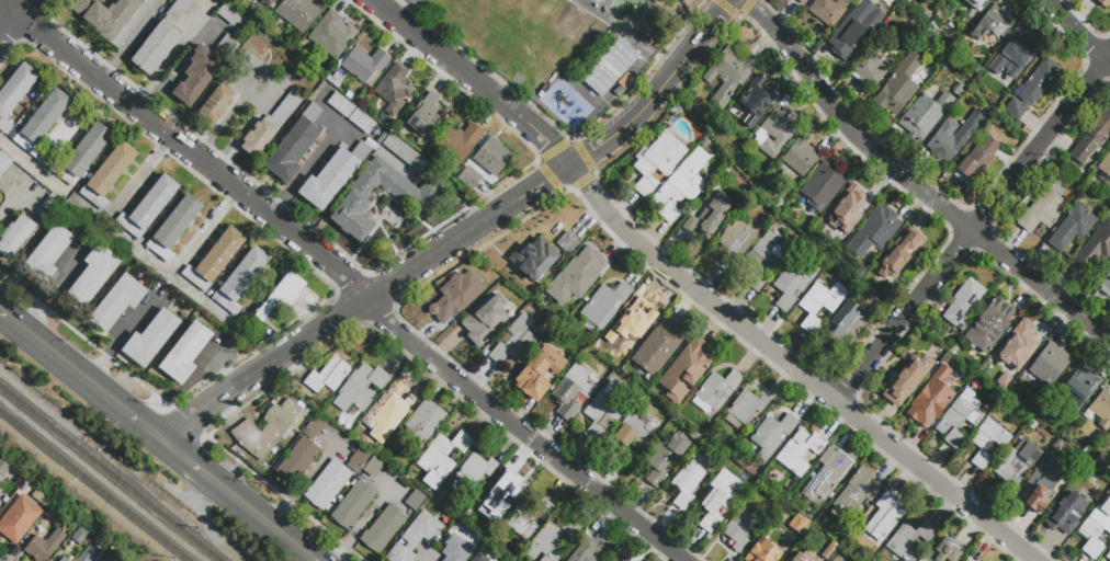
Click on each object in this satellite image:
building: (269, 2)
building: (804, 2)
building: (1106, 2)
park: (588, 4)
building: (976, 4)
building: (178, 10)
building: (827, 12)
building: (297, 13)
building: (112, 18)
building: (233, 19)
road: (15, 20)
building: (994, 22)
building: (858, 27)
road: (1076, 32)
building: (330, 34)
park: (531, 34)
building: (157, 47)
building: (1015, 55)
building: (365, 66)
building: (609, 67)
building: (203, 69)
building: (871, 69)
building: (729, 77)
road: (475, 79)
building: (899, 87)
building: (1031, 88)
building: (394, 89)
building: (14, 92)
building: (752, 103)
building: (216, 104)
building: (341, 104)
building: (924, 115)
building: (424, 117)
building: (362, 122)
building: (42, 123)
building: (270, 124)
road: (340, 127)
building: (774, 133)
building: (955, 137)
building: (1091, 138)
building: (458, 141)
building: (295, 145)
building: (81, 154)
building: (405, 154)
building: (798, 158)
building: (656, 160)
building: (485, 161)
building: (976, 162)
building: (4, 163)
road: (32, 164)
building: (1105, 164)
road: (304, 172)
building: (109, 173)
building: (332, 176)
road: (913, 184)
building: (680, 186)
building: (823, 186)
building: (416, 197)
building: (856, 201)
road: (13, 202)
building: (148, 207)
building: (49, 208)
building: (1041, 210)
building: (707, 213)
building: (880, 224)
building: (174, 227)
road: (974, 228)
building: (1072, 228)
road: (203, 231)
building: (15, 236)
road: (125, 238)
road: (461, 239)
building: (735, 240)
building: (1095, 249)
building: (901, 250)
building: (46, 255)
building: (764, 256)
building: (541, 257)
building: (214, 261)
building: (93, 273)
building: (577, 276)
building: (240, 279)
road: (346, 279)
building: (1103, 280)
building: (793, 284)
building: (457, 294)
building: (281, 296)
building: (963, 300)
building: (116, 302)
building: (604, 305)
building: (819, 305)
building: (484, 320)
building: (634, 320)
building: (839, 324)
building: (854, 325)
building: (989, 325)
road: (82, 337)
building: (150, 337)
road: (117, 342)
building: (514, 342)
building: (1022, 343)
building: (658, 346)
building: (185, 352)
building: (1050, 362)
road: (797, 368)
building: (683, 371)
building: (539, 373)
road: (78, 375)
building: (328, 375)
building: (908, 379)
building: (1079, 381)
building: (360, 389)
building: (571, 390)
building: (715, 393)
building: (931, 398)
building: (745, 408)
building: (1101, 409)
building: (387, 411)
building: (603, 411)
building: (959, 417)
building: (426, 421)
road: (185, 422)
building: (314, 427)
building: (273, 430)
building: (243, 431)
building: (1109, 432)
building: (772, 434)
building: (634, 438)
building: (987, 442)
building: (800, 451)
building: (664, 458)
building: (358, 459)
building: (439, 459)
building: (297, 460)
building: (1016, 462)
building: (373, 467)
building: (476, 468)
building: (3, 469)
railway: (110, 473)
building: (828, 474)
building: (689, 479)
road: (302, 480)
railway: (95, 484)
building: (327, 485)
building: (1038, 489)
building: (857, 490)
building: (42, 497)
building: (500, 499)
road: (235, 500)
road: (284, 500)
building: (415, 500)
building: (716, 501)
building: (0, 503)
building: (353, 505)
building: (53, 513)
building: (1067, 513)
building: (884, 516)
building: (529, 517)
building: (19, 519)
road: (365, 520)
building: (800, 525)
building: (383, 528)
building: (1096, 528)
building: (740, 531)
building: (80, 537)
building: (415, 537)
building: (551, 540)
building: (908, 540)
building: (38, 549)
building: (456, 549)
building: (761, 551)
building: (943, 551)
building: (582, 552)
building: (110, 554)
building: (87, 556)
building: (1108, 556)
building: (796, 558)
building: (478, 559)
building: (64, 560)
building: (623, 560)
building: (624, 560)
building: (967, 560)

